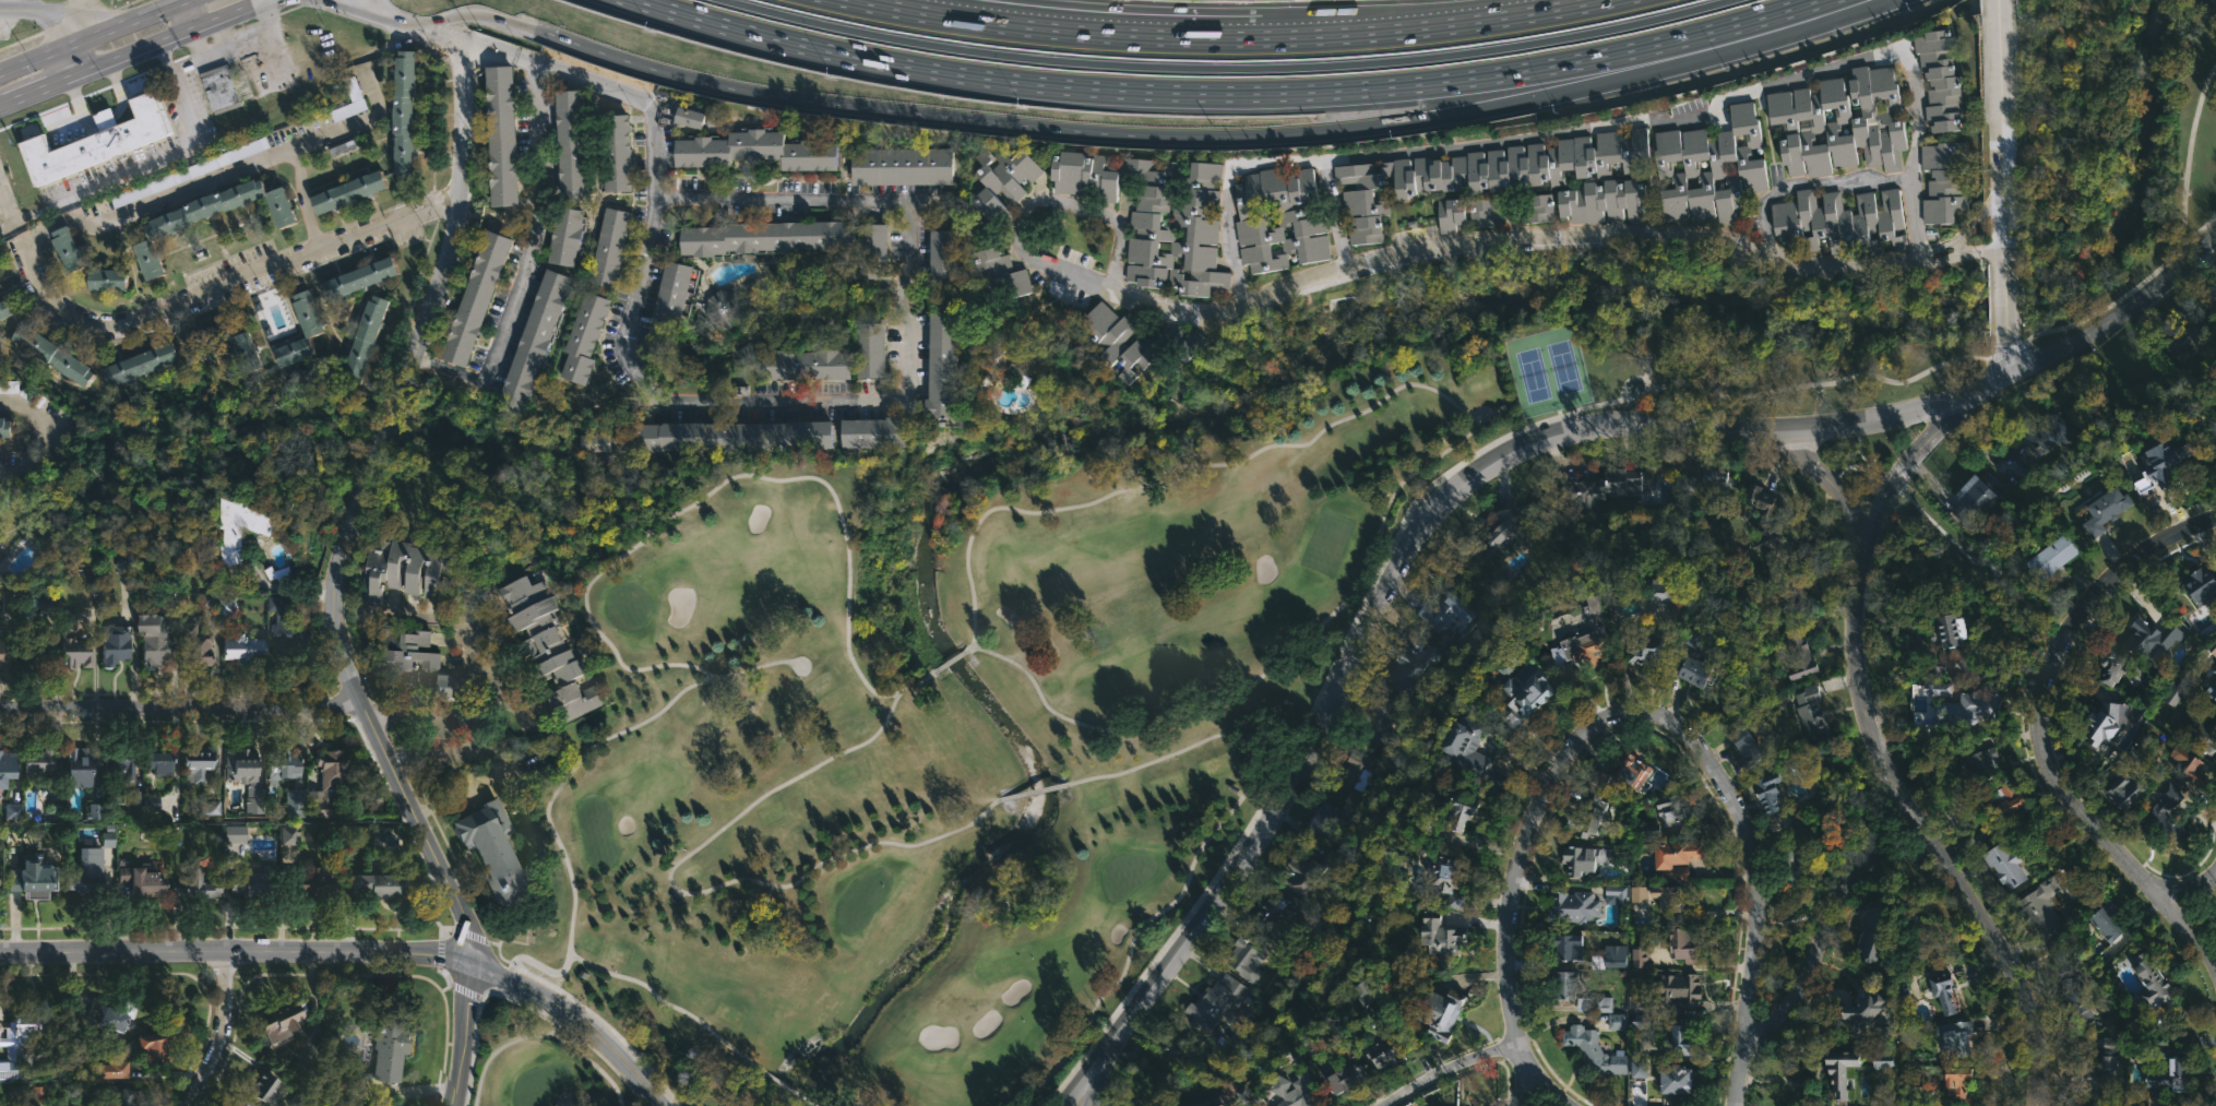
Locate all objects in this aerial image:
road: (305, 2)
building: (2207, 2)
road: (28, 4)
road: (160, 8)
road: (380, 8)
road: (369, 9)
road: (352, 10)
road: (187, 13)
road: (479, 14)
road: (1819, 15)
road: (59, 16)
road: (83, 17)
road: (405, 21)
road: (1423, 26)
road: (107, 28)
road: (1051, 29)
road: (473, 36)
road: (156, 41)
road: (38, 56)
road: (152, 68)
road: (1228, 68)
building: (1940, 78)
building: (221, 87)
road: (629, 88)
road: (1224, 93)
road: (31, 94)
road: (819, 100)
road: (4, 105)
road: (1719, 105)
building: (401, 111)
building: (686, 116)
road: (1457, 116)
building: (1840, 122)
road: (1999, 124)
road: (348, 130)
building: (498, 135)
building: (96, 141)
building: (568, 144)
building: (753, 150)
building: (613, 152)
road: (2190, 156)
road: (152, 162)
building: (899, 165)
road: (1258, 165)
building: (1711, 167)
building: (1481, 173)
building: (1081, 174)
road: (216, 180)
building: (1000, 180)
building: (1943, 182)
road: (1808, 185)
building: (345, 191)
building: (1603, 201)
building: (1536, 206)
road: (1079, 210)
building: (1486, 212)
building: (1451, 213)
road: (1978, 216)
building: (214, 217)
building: (1278, 218)
building: (1840, 221)
road: (7, 225)
building: (1173, 225)
building: (563, 235)
building: (765, 237)
road: (1961, 243)
building: (608, 246)
road: (1937, 246)
road: (1458, 249)
building: (74, 250)
building: (870, 251)
road: (1983, 251)
road: (529, 253)
building: (942, 257)
road: (1942, 258)
road: (909, 269)
building: (0, 272)
building: (1000, 274)
building: (0, 277)
building: (356, 277)
building: (118, 278)
road: (2003, 288)
building: (669, 293)
road: (198, 296)
building: (473, 297)
building: (720, 308)
building: (7, 310)
building: (309, 311)
road: (2119, 322)
building: (2189, 336)
building: (582, 337)
building: (359, 338)
building: (532, 340)
building: (1115, 343)
building: (1186, 344)
building: (249, 349)
building: (868, 349)
road: (2005, 350)
building: (53, 353)
road: (421, 359)
building: (1004, 362)
building: (140, 365)
building: (805, 365)
building: (940, 366)
park: (1547, 370)
road: (1993, 383)
building: (454, 390)
road: (1485, 419)
building: (8, 426)
road: (45, 428)
building: (760, 435)
building: (2041, 438)
building: (591, 442)
road: (1482, 447)
park: (1864, 460)
road: (1909, 460)
building: (2167, 463)
road: (11, 476)
building: (1714, 478)
road: (1824, 479)
building: (1601, 487)
road: (356, 492)
building: (1976, 497)
building: (2108, 510)
road: (660, 516)
building: (241, 528)
building: (1500, 534)
building: (1768, 535)
park: (1325, 542)
road: (1398, 558)
building: (2052, 560)
building: (127, 561)
building: (400, 570)
building: (2203, 585)
road: (255, 586)
building: (1659, 591)
building: (1787, 599)
park: (626, 606)
building: (1446, 609)
building: (1592, 611)
building: (289, 630)
building: (1954, 631)
building: (1652, 640)
building: (2154, 640)
building: (117, 644)
building: (75, 646)
building: (196, 646)
building: (546, 646)
building: (155, 647)
building: (1578, 649)
building: (2212, 649)
building: (247, 650)
building: (35, 653)
building: (1644, 653)
building: (5, 654)
building: (1798, 656)
building: (1510, 659)
road: (950, 661)
building: (413, 663)
building: (2114, 667)
building: (1408, 669)
road: (486, 670)
building: (2215, 670)
building: (1696, 673)
park: (1051, 678)
road: (1997, 679)
building: (2212, 690)
building: (2173, 693)
building: (1536, 694)
building: (1982, 706)
road: (182, 710)
building: (1811, 714)
building: (1377, 718)
building: (2106, 724)
road: (2039, 734)
building: (2202, 735)
building: (1747, 747)
building: (1470, 754)
building: (1981, 758)
building: (163, 762)
building: (201, 763)
building: (41, 764)
building: (282, 764)
building: (128, 766)
building: (81, 768)
building: (2190, 768)
building: (9, 769)
building: (1357, 773)
building: (1623, 775)
building: (249, 776)
road: (562, 780)
building: (326, 783)
road: (1033, 792)
building: (1768, 792)
building: (2128, 794)
building: (294, 804)
building: (2011, 806)
building: (1670, 811)
building: (1461, 812)
building: (1588, 816)
building: (1324, 820)
building: (2159, 821)
road: (1921, 831)
park: (595, 832)
building: (233, 834)
road: (1196, 849)
building: (490, 852)
building: (1581, 860)
building: (1677, 860)
building: (1796, 861)
building: (2006, 866)
building: (1309, 870)
park: (1125, 873)
building: (85, 876)
building: (142, 877)
building: (35, 878)
building: (1, 879)
building: (1446, 879)
building: (309, 882)
road: (1752, 882)
road: (1513, 883)
building: (247, 884)
road: (2182, 885)
building: (190, 887)
road: (672, 887)
building: (379, 888)
building: (1616, 892)
building: (1639, 894)
park: (860, 900)
building: (1667, 900)
building: (1576, 908)
building: (2042, 908)
building: (1272, 912)
road: (1822, 918)
building: (2108, 923)
building: (1872, 933)
building: (1438, 940)
building: (1568, 946)
building: (1683, 946)
road: (233, 951)
building: (1243, 953)
building: (1615, 956)
building: (1640, 956)
road: (503, 978)
road: (636, 982)
building: (2152, 982)
building: (1564, 983)
building: (1363, 988)
building: (1680, 989)
building: (1944, 992)
building: (2077, 996)
building: (1212, 1003)
building: (1594, 1004)
road: (528, 1007)
building: (1864, 1007)
building: (1642, 1009)
road: (575, 1013)
building: (110, 1014)
building: (1439, 1015)
building: (286, 1020)
building: (1617, 1022)
road: (601, 1025)
road: (217, 1033)
road: (465, 1034)
building: (1682, 1035)
building: (1955, 1038)
building: (21, 1042)
road: (473, 1043)
building: (2109, 1045)
building: (158, 1046)
building: (388, 1049)
road: (495, 1050)
building: (1383, 1051)
building: (1595, 1051)
road: (584, 1059)
building: (1883, 1061)
building: (1840, 1068)
road: (1444, 1069)
building: (1640, 1069)
building: (114, 1071)
building: (2170, 1071)
building: (2094, 1073)
building: (1341, 1078)
building: (1677, 1080)
road: (1080, 1082)
building: (1957, 1082)
park: (537, 1084)
road: (1539, 1086)
building: (260, 1089)
road: (788, 1089)
building: (1291, 1092)
building: (29, 1093)
building: (122, 1096)
building: (242, 1102)
building: (1200, 1103)
building: (352, 1105)
building: (1271, 1105)

